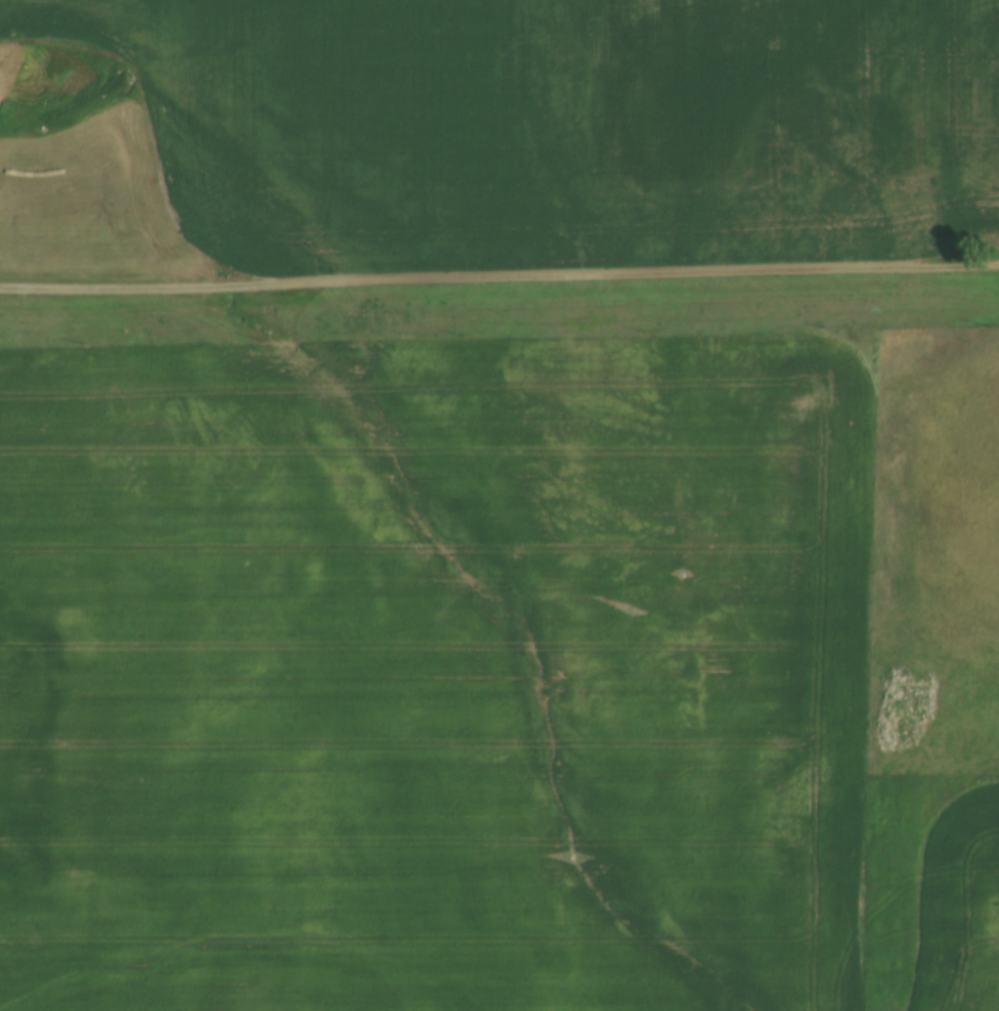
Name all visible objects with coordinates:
road: (499, 275)

